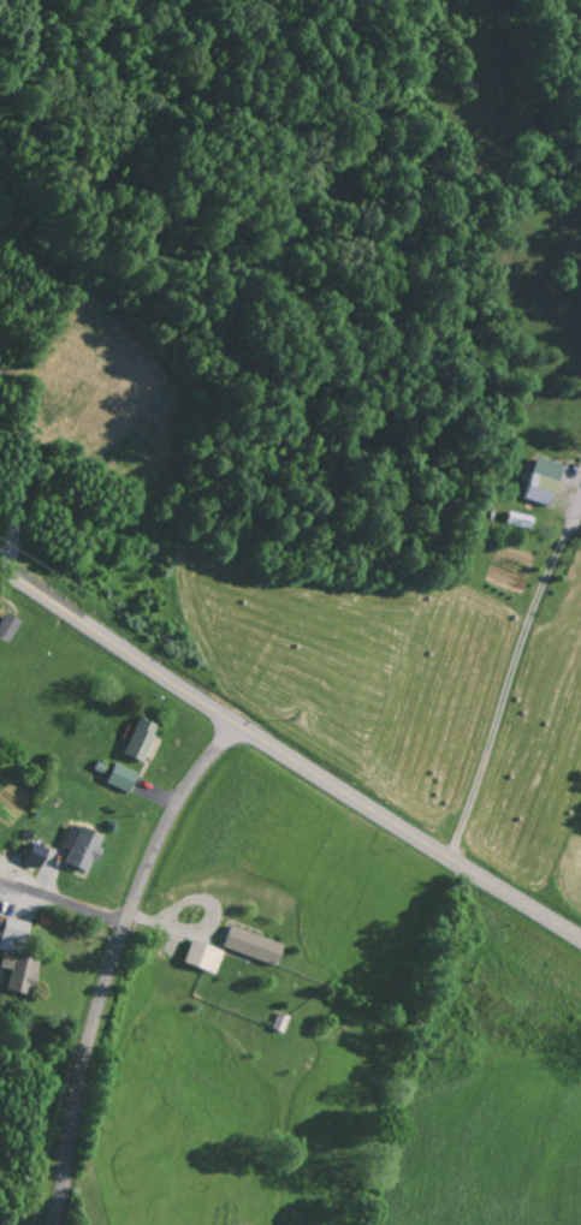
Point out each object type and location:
building: (540, 481)
building: (7, 626)
road: (511, 695)
building: (138, 739)
road: (287, 757)
building: (118, 777)
building: (81, 848)
building: (32, 856)
road: (61, 903)
building: (11, 932)
building: (250, 945)
building: (201, 956)
road: (111, 961)
building: (18, 973)

